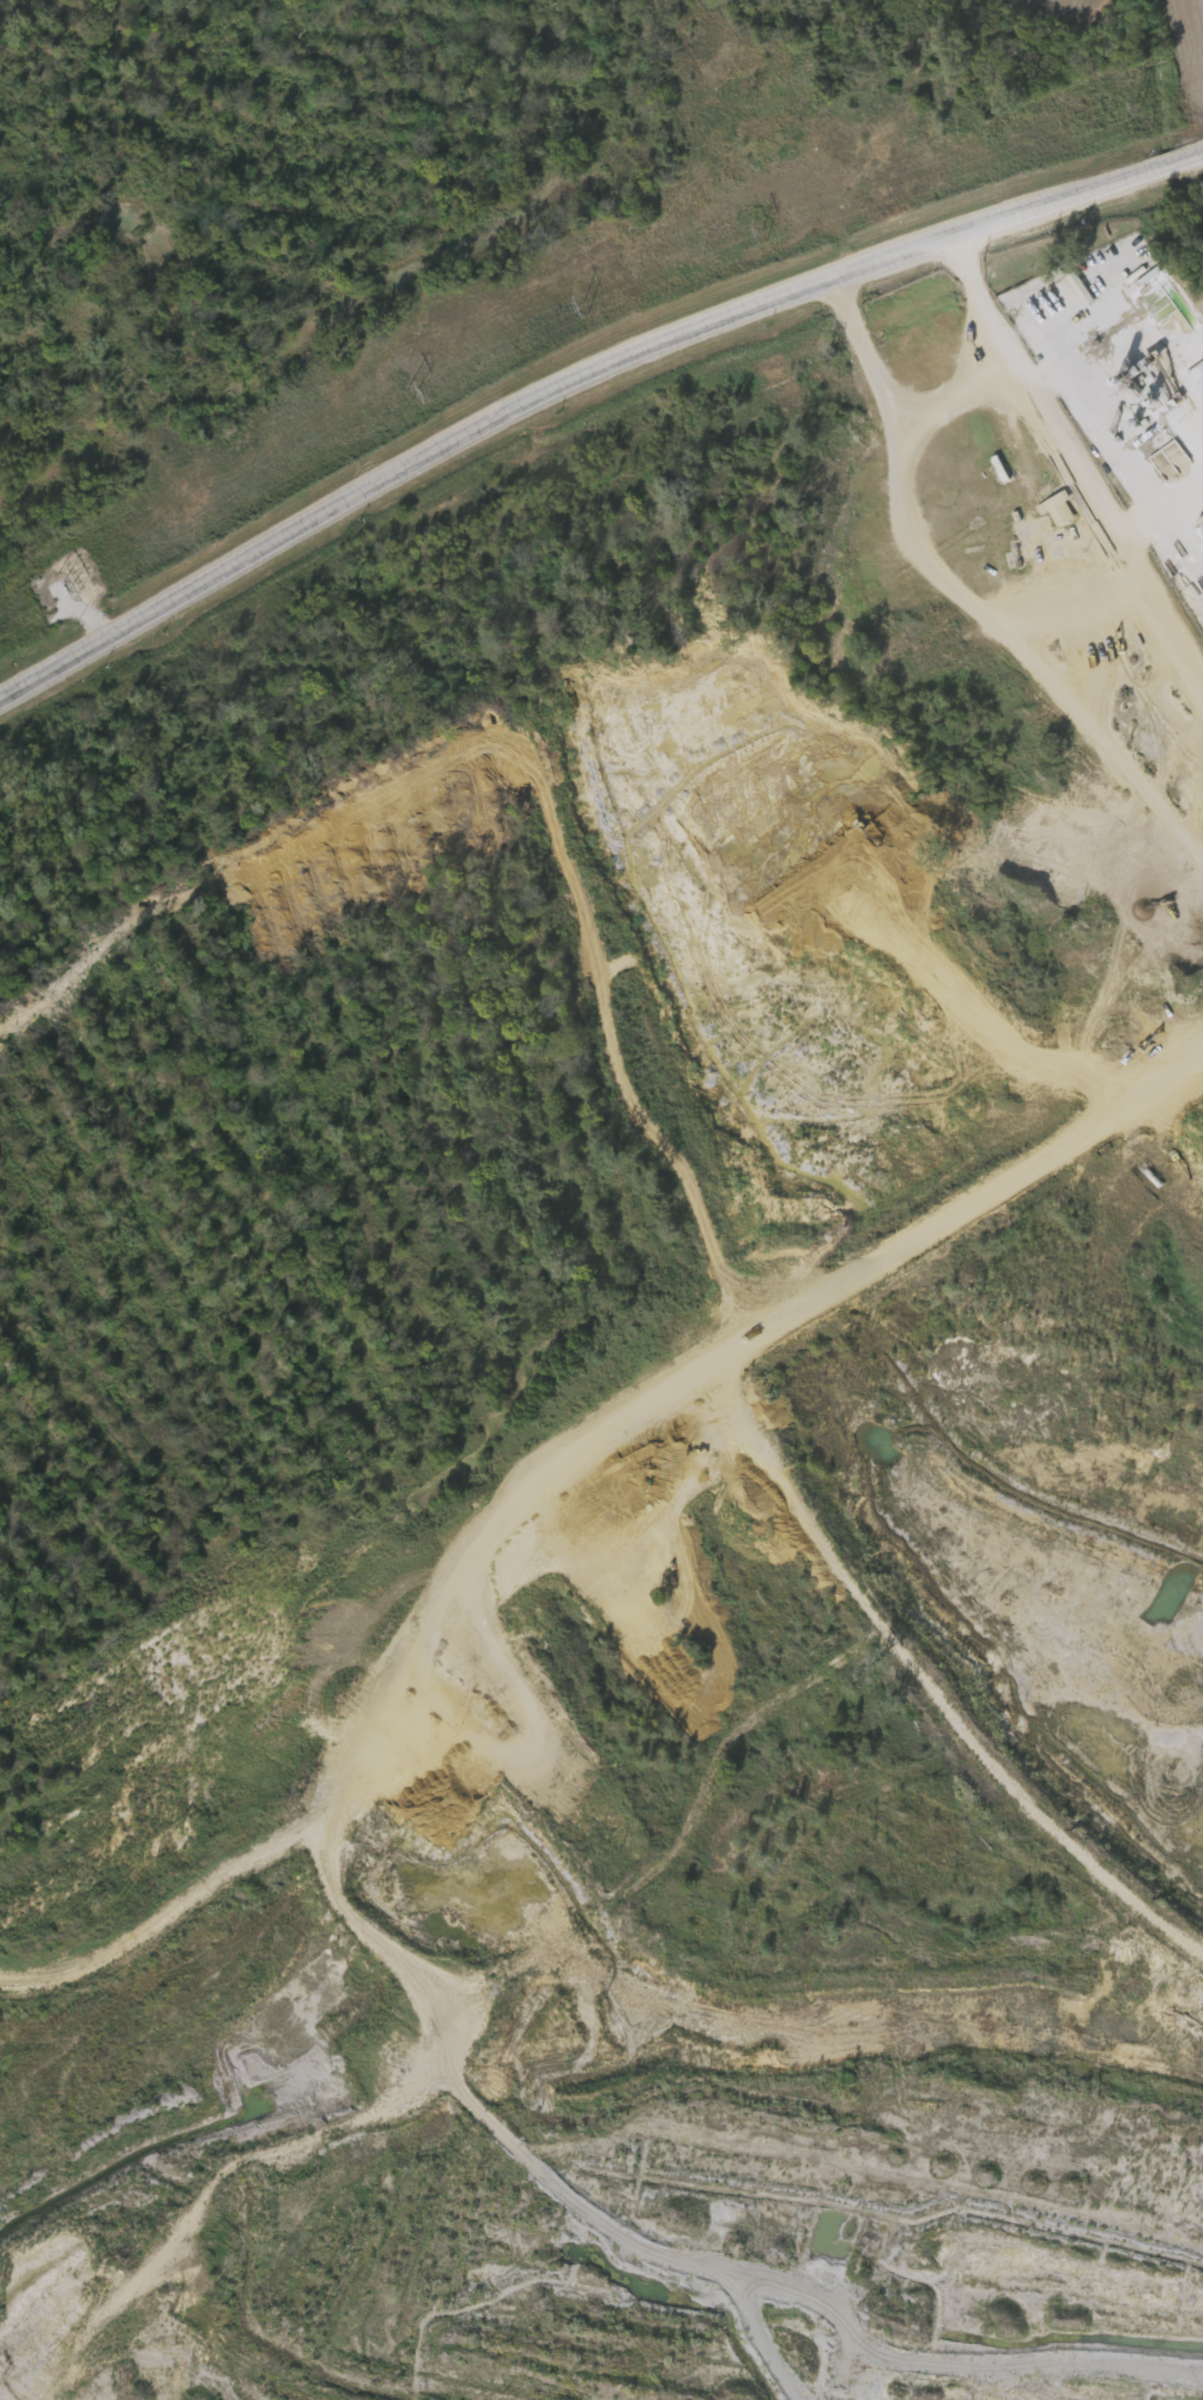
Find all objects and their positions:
power tower: (1136, 103)
crop: (412, 181)
power tower: (766, 228)
building: (1081, 287)
power tower: (587, 303)
road: (868, 352)
road: (579, 381)
power tower: (412, 391)
road: (957, 394)
building: (992, 453)
road: (1089, 498)
building: (1058, 509)
power tower: (65, 587)
road: (1018, 653)

